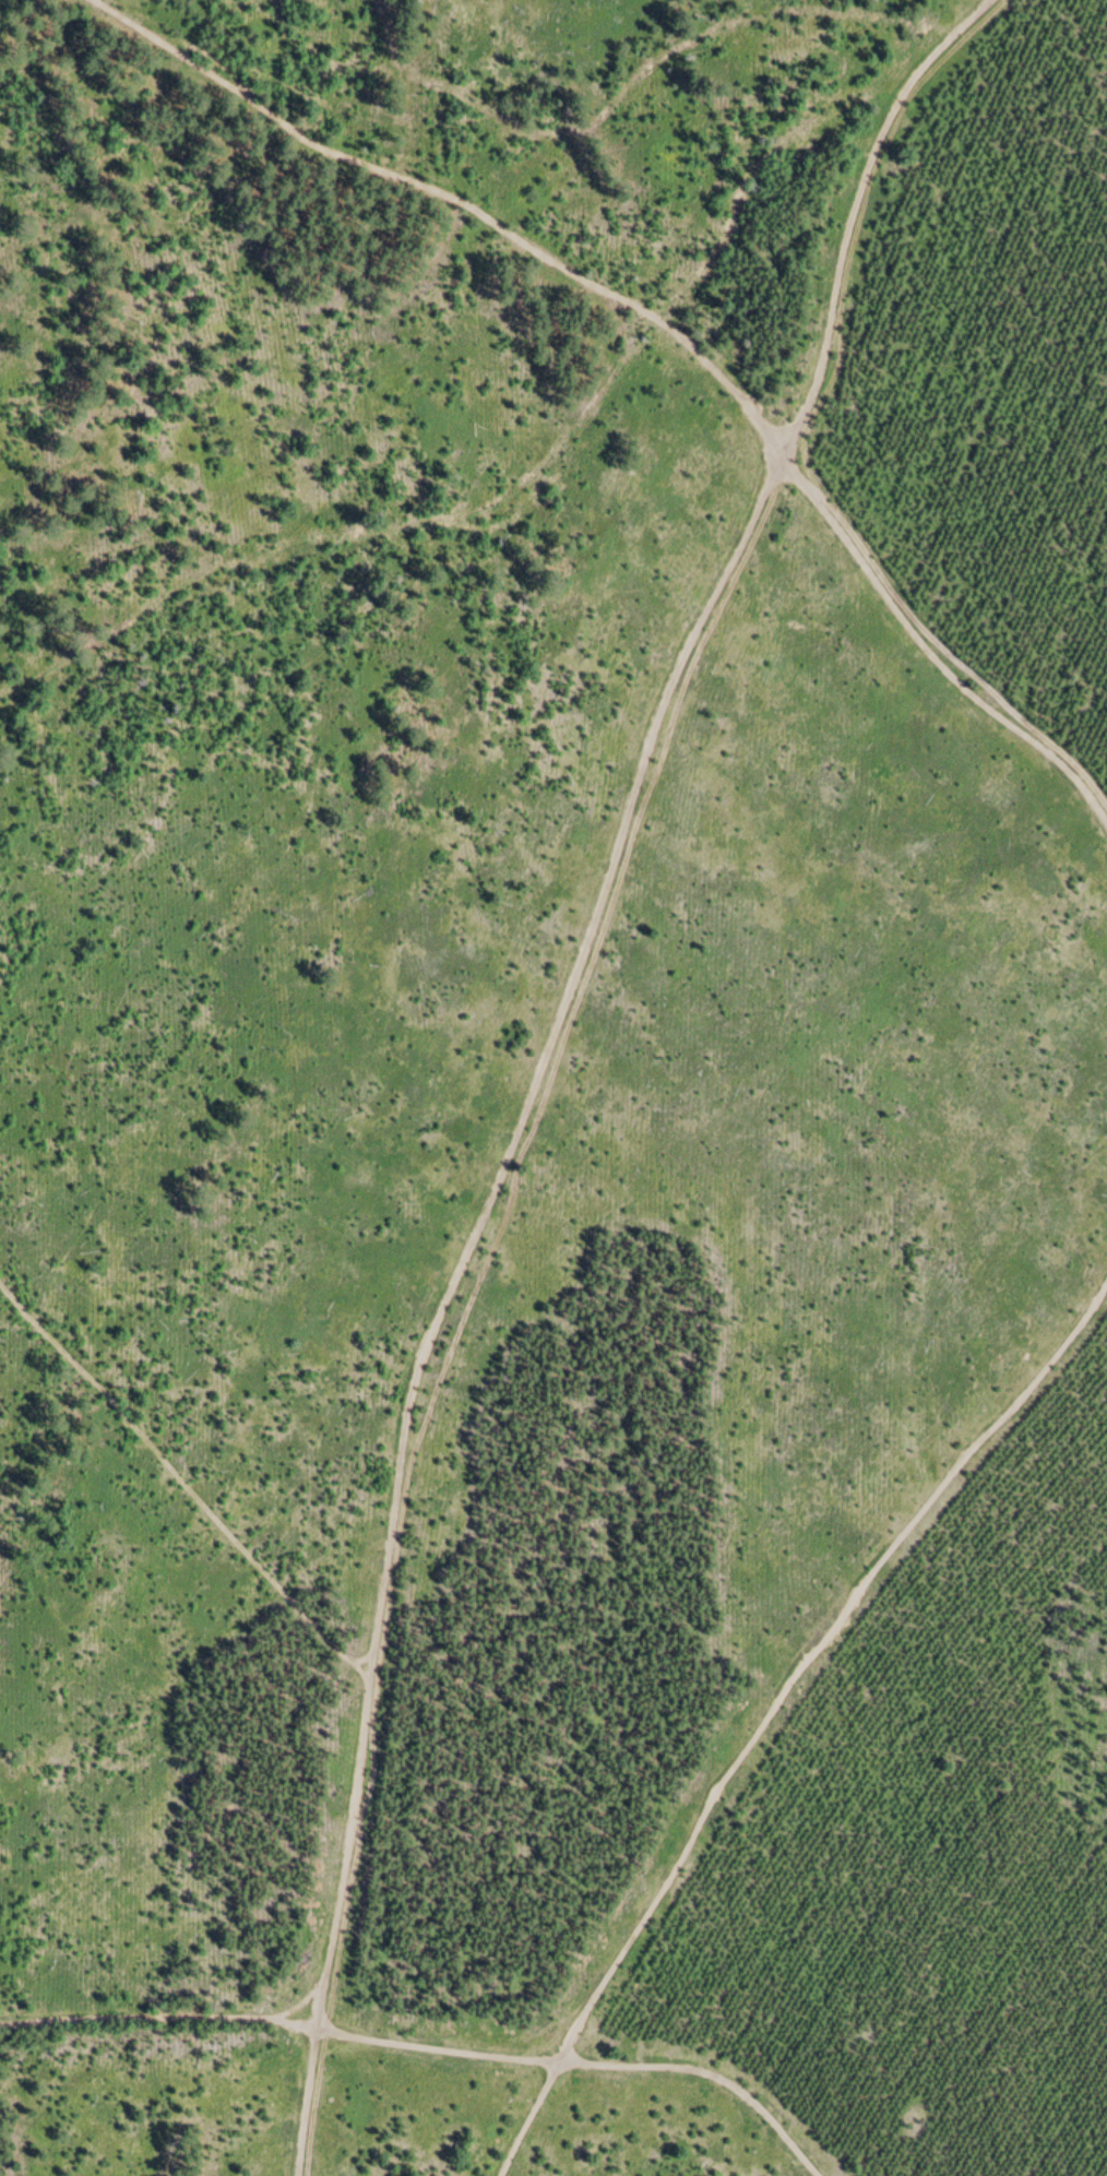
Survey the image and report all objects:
road: (670, 330)
road: (541, 1054)
road: (775, 1710)
road: (429, 2046)

